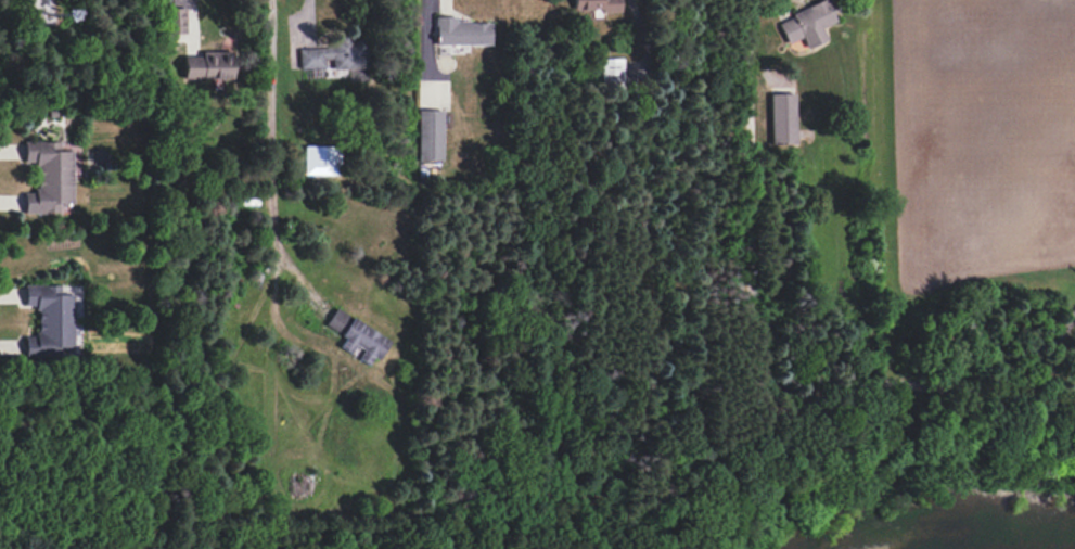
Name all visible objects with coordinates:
building: (597, 5)
road: (189, 18)
road: (306, 18)
building: (175, 20)
building: (807, 24)
building: (460, 31)
road: (426, 50)
building: (335, 54)
building: (208, 65)
building: (611, 72)
building: (782, 118)
building: (430, 135)
road: (269, 157)
building: (321, 159)
building: (48, 177)
building: (50, 320)
building: (356, 336)
road: (758, 368)
river: (923, 542)

